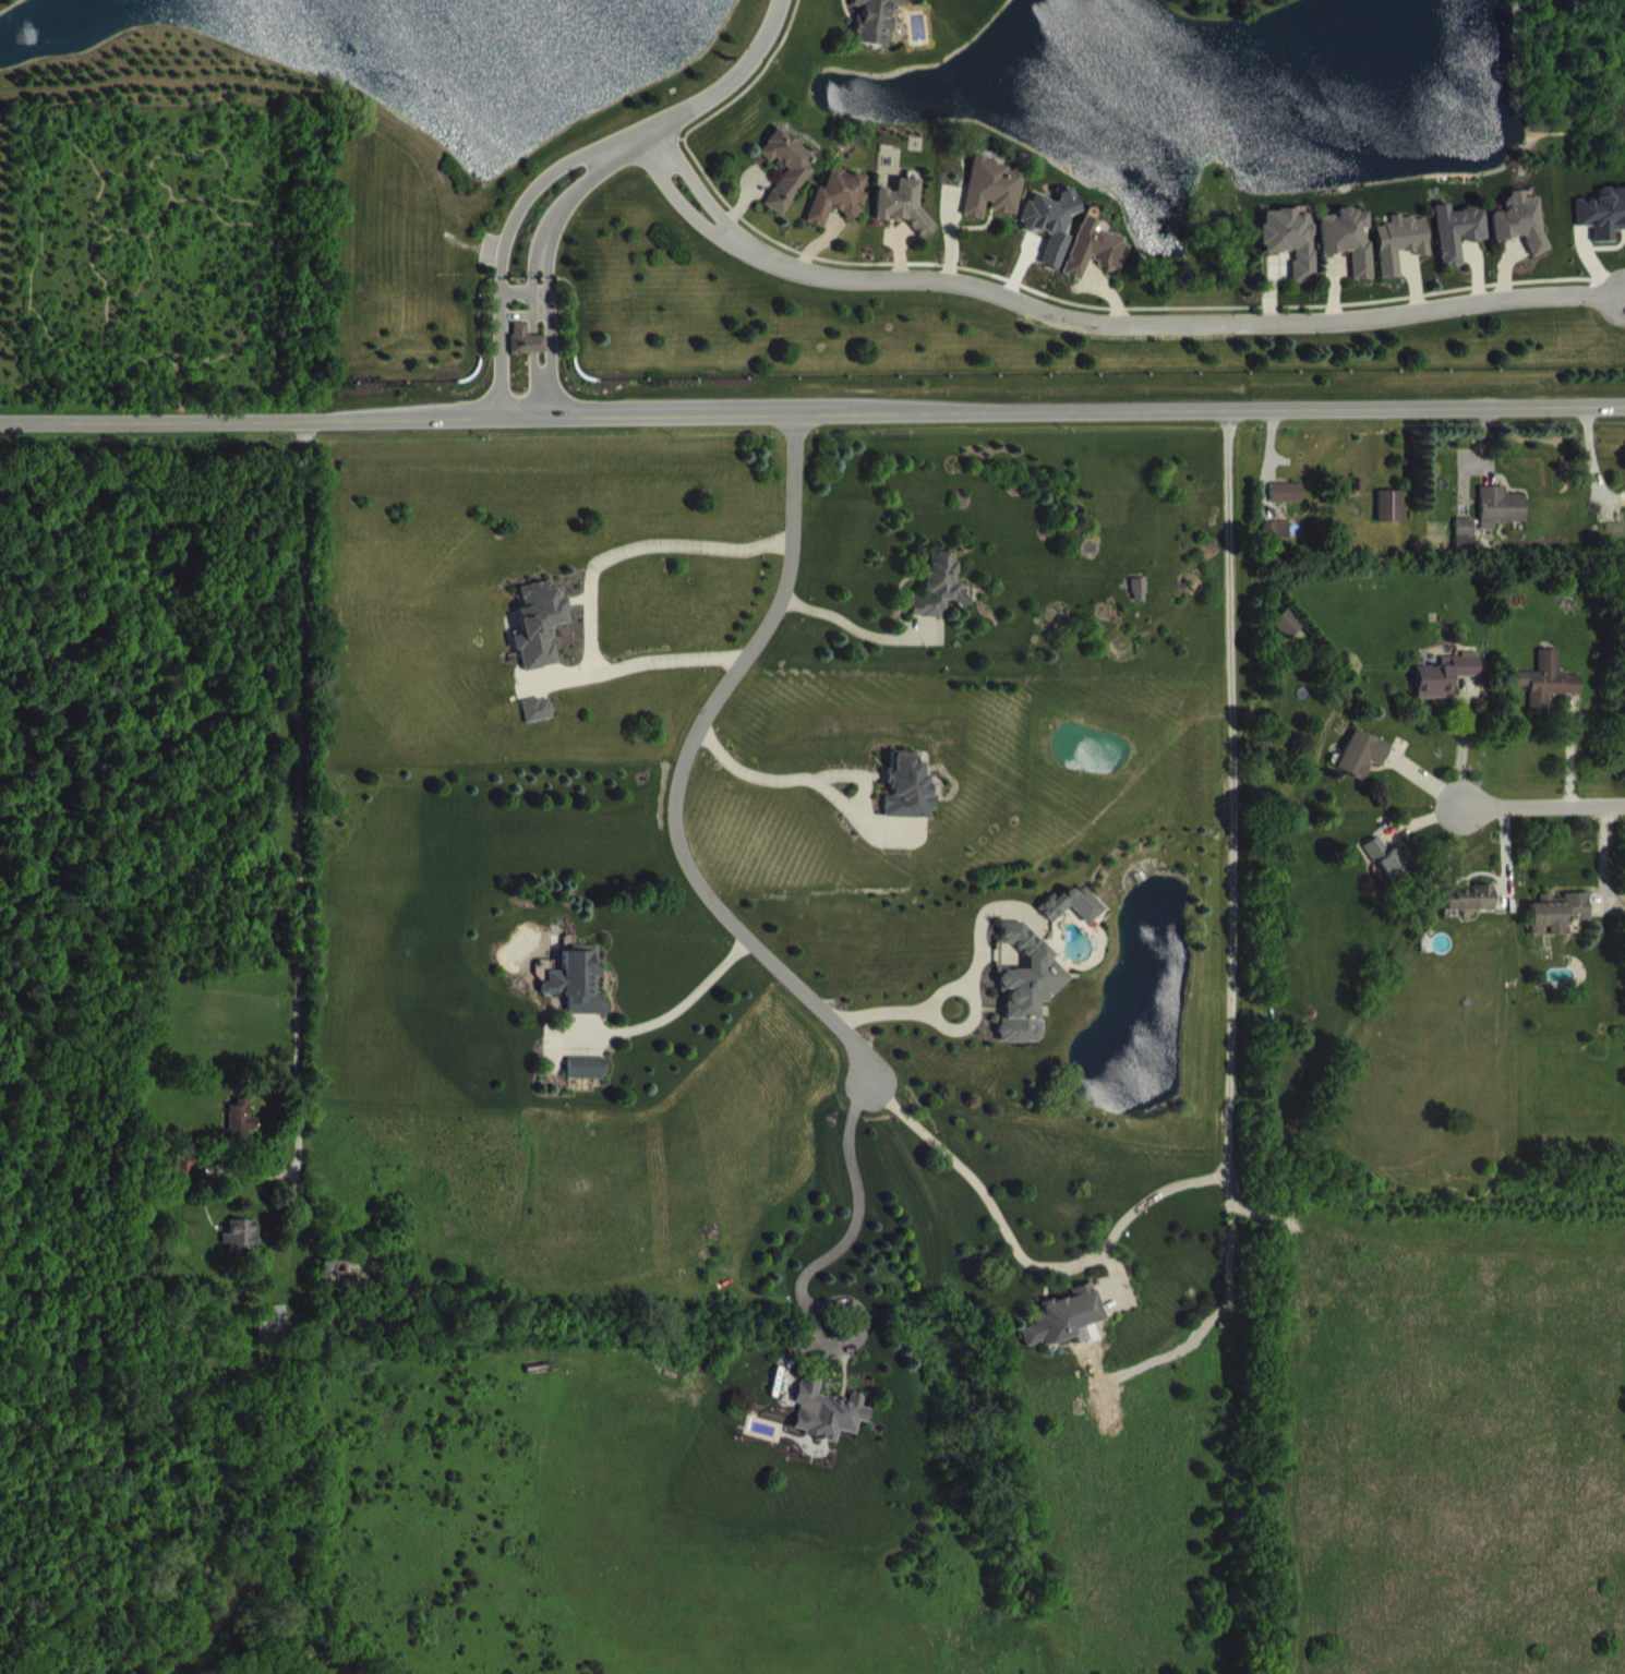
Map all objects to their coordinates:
building: (874, 31)
road: (710, 92)
road: (691, 182)
building: (787, 184)
road: (570, 196)
road: (673, 197)
building: (994, 204)
building: (838, 213)
building: (903, 218)
building: (1603, 229)
building: (1520, 237)
building: (1051, 239)
building: (1459, 246)
road: (503, 254)
building: (1292, 255)
building: (1350, 255)
building: (1403, 257)
building: (1096, 265)
road: (531, 314)
road: (549, 315)
road: (1170, 323)
building: (528, 356)
road: (541, 400)
road: (812, 412)
building: (1288, 508)
building: (1392, 521)
building: (1501, 522)
building: (1277, 545)
building: (1466, 549)
road: (586, 590)
building: (940, 602)
building: (1142, 605)
road: (854, 627)
building: (1288, 639)
building: (541, 640)
building: (1446, 690)
building: (1549, 696)
building: (539, 725)
road: (1458, 756)
road: (1564, 757)
building: (1364, 769)
road: (684, 773)
road: (810, 782)
building: (910, 804)
road: (1543, 814)
road: (303, 833)
building: (1391, 875)
building: (1470, 913)
building: (1072, 920)
building: (1558, 928)
road: (955, 986)
building: (580, 997)
building: (1028, 1000)
road: (672, 1009)
road: (878, 1011)
road: (1229, 1022)
building: (588, 1084)
building: (243, 1134)
road: (847, 1230)
building: (243, 1252)
building: (347, 1286)
building: (1066, 1332)
building: (274, 1337)
building: (828, 1426)

